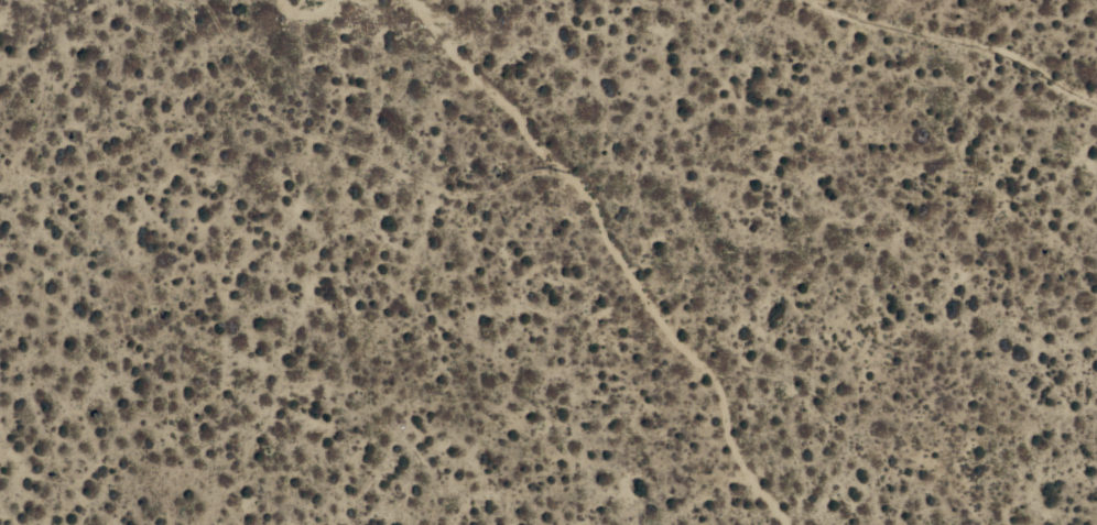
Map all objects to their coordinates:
road: (968, 39)

